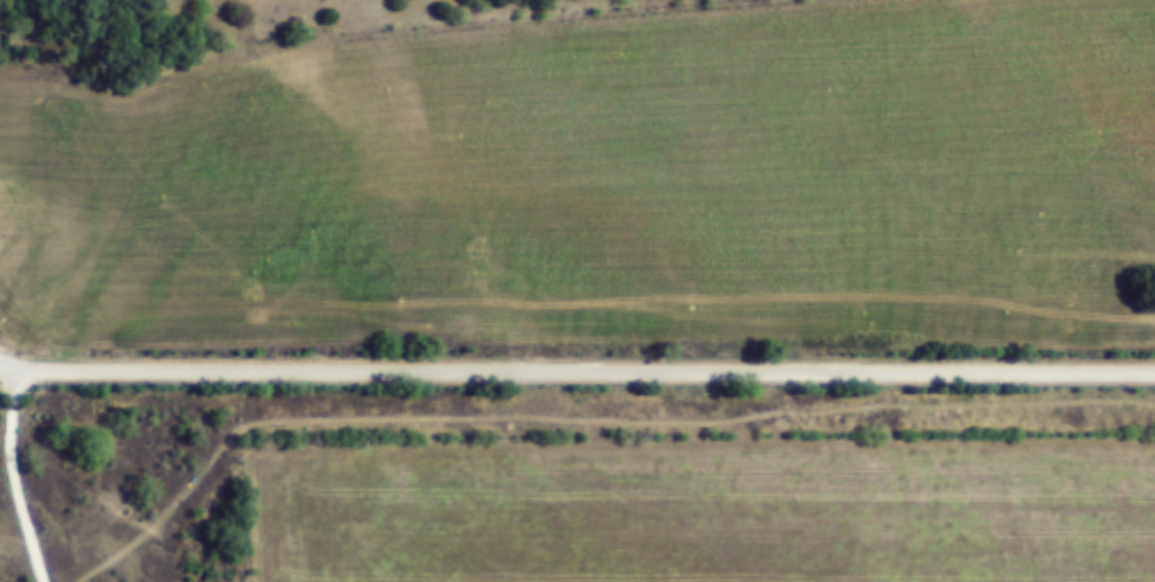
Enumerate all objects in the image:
road: (17, 366)
road: (576, 370)
road: (46, 499)

